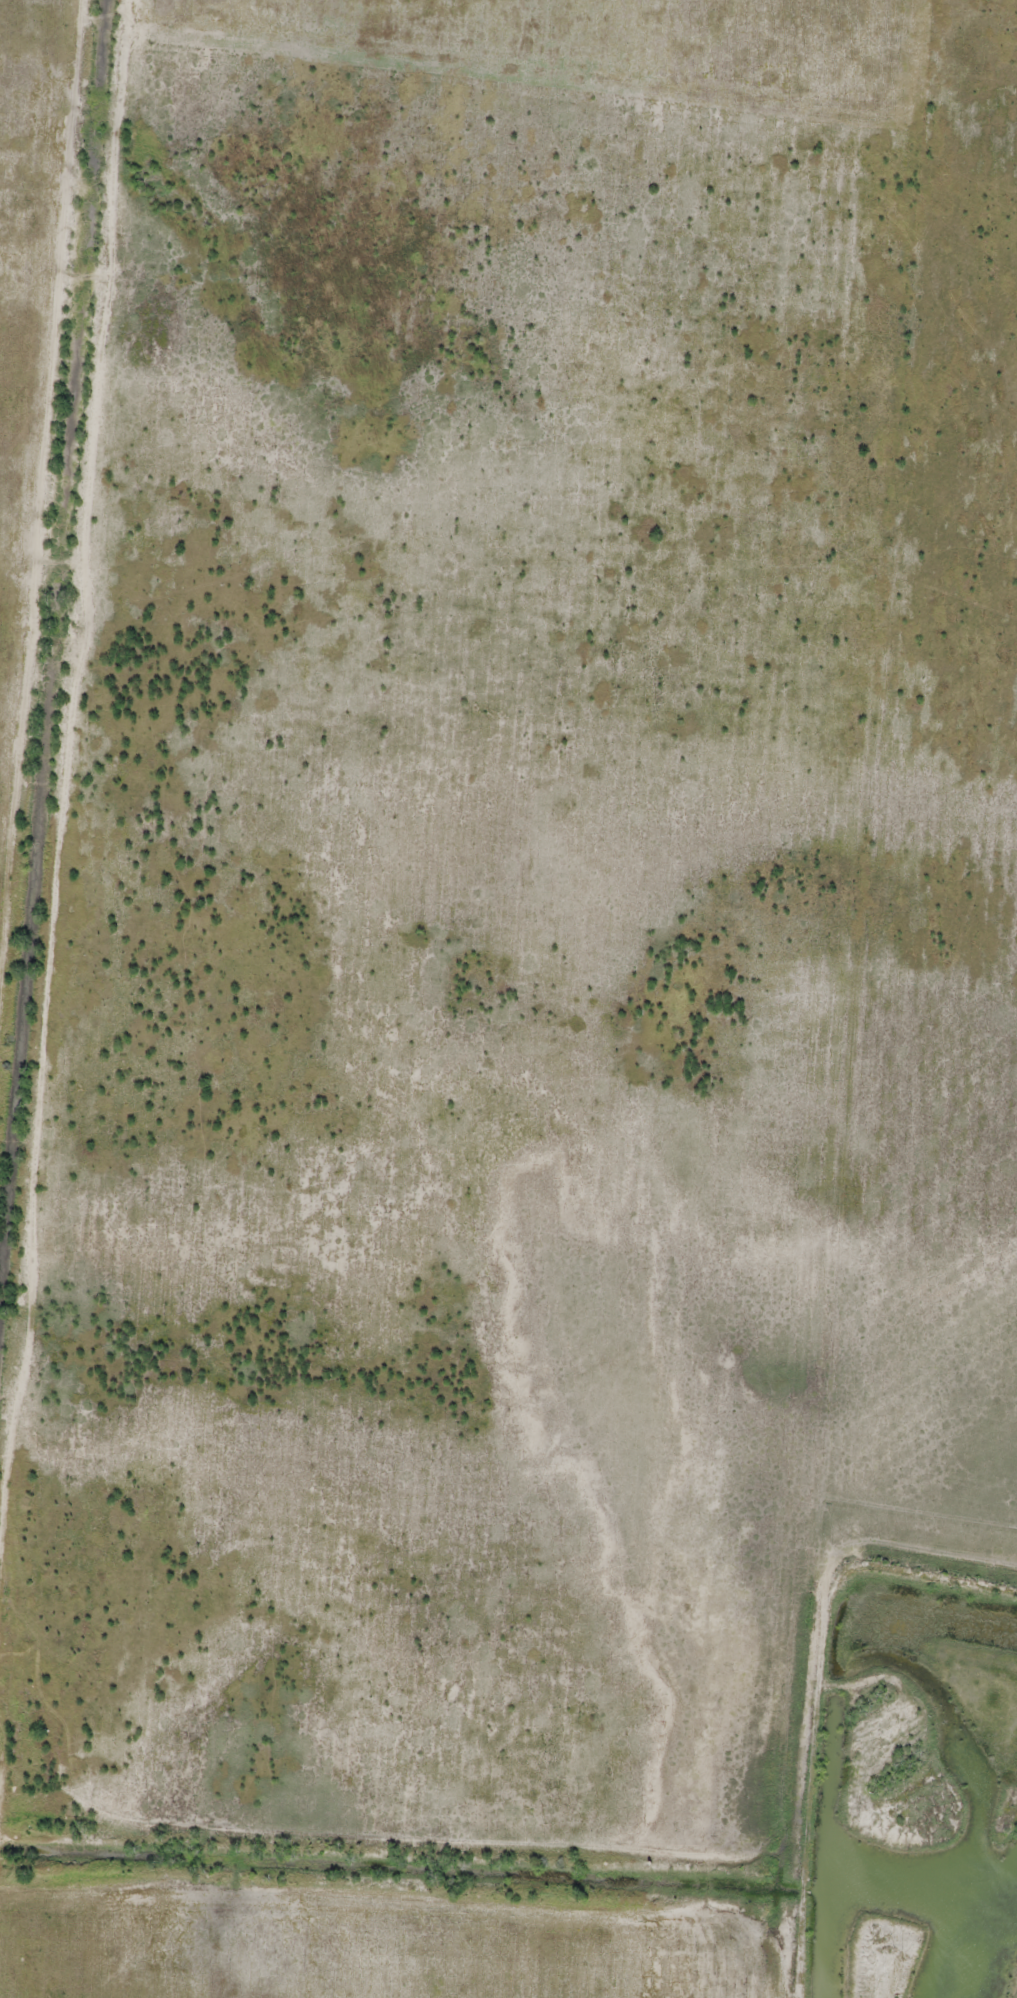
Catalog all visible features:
road: (25, 66)
road: (38, 1361)

